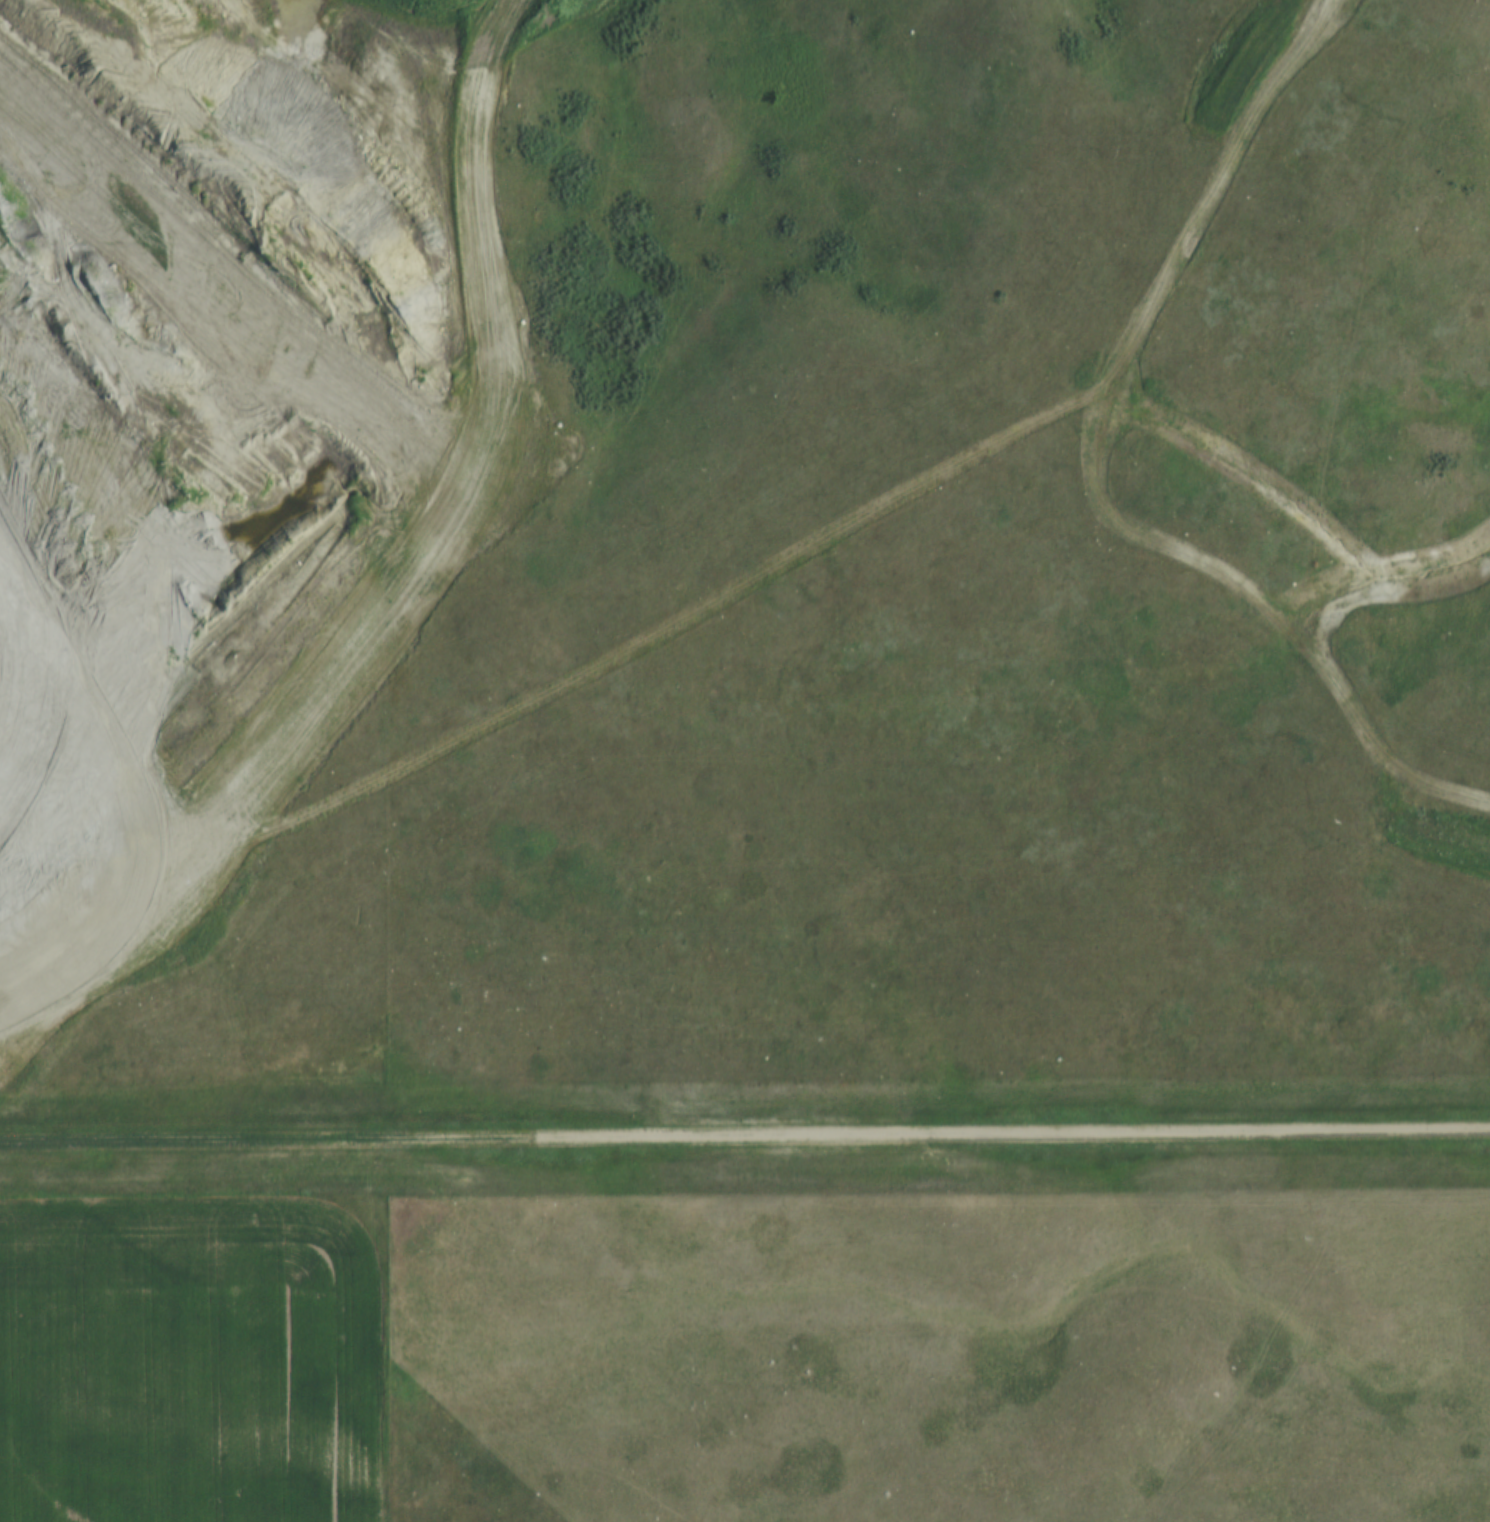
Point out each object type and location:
road: (745, 1139)

